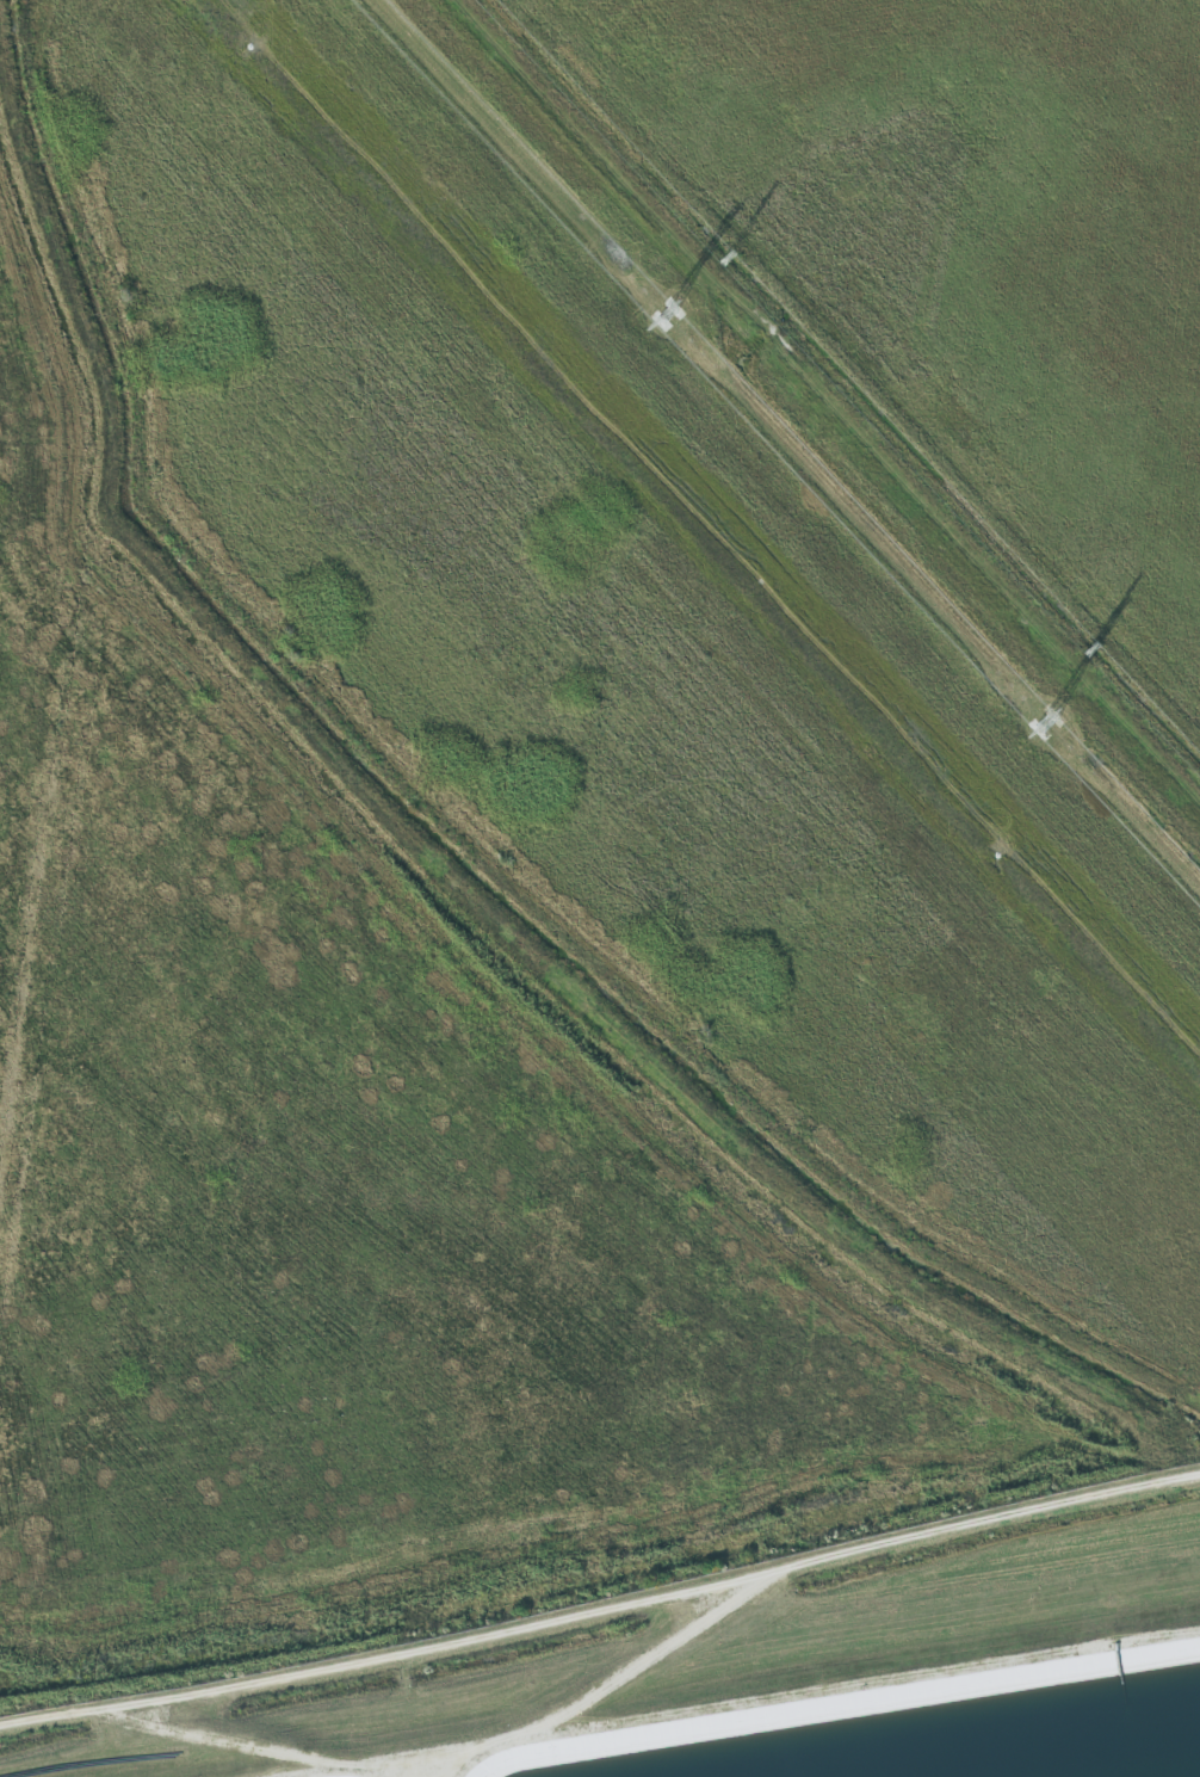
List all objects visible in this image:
power tower: (729, 259)
power tower: (668, 317)
power tower: (1088, 647)
power tower: (1045, 724)

